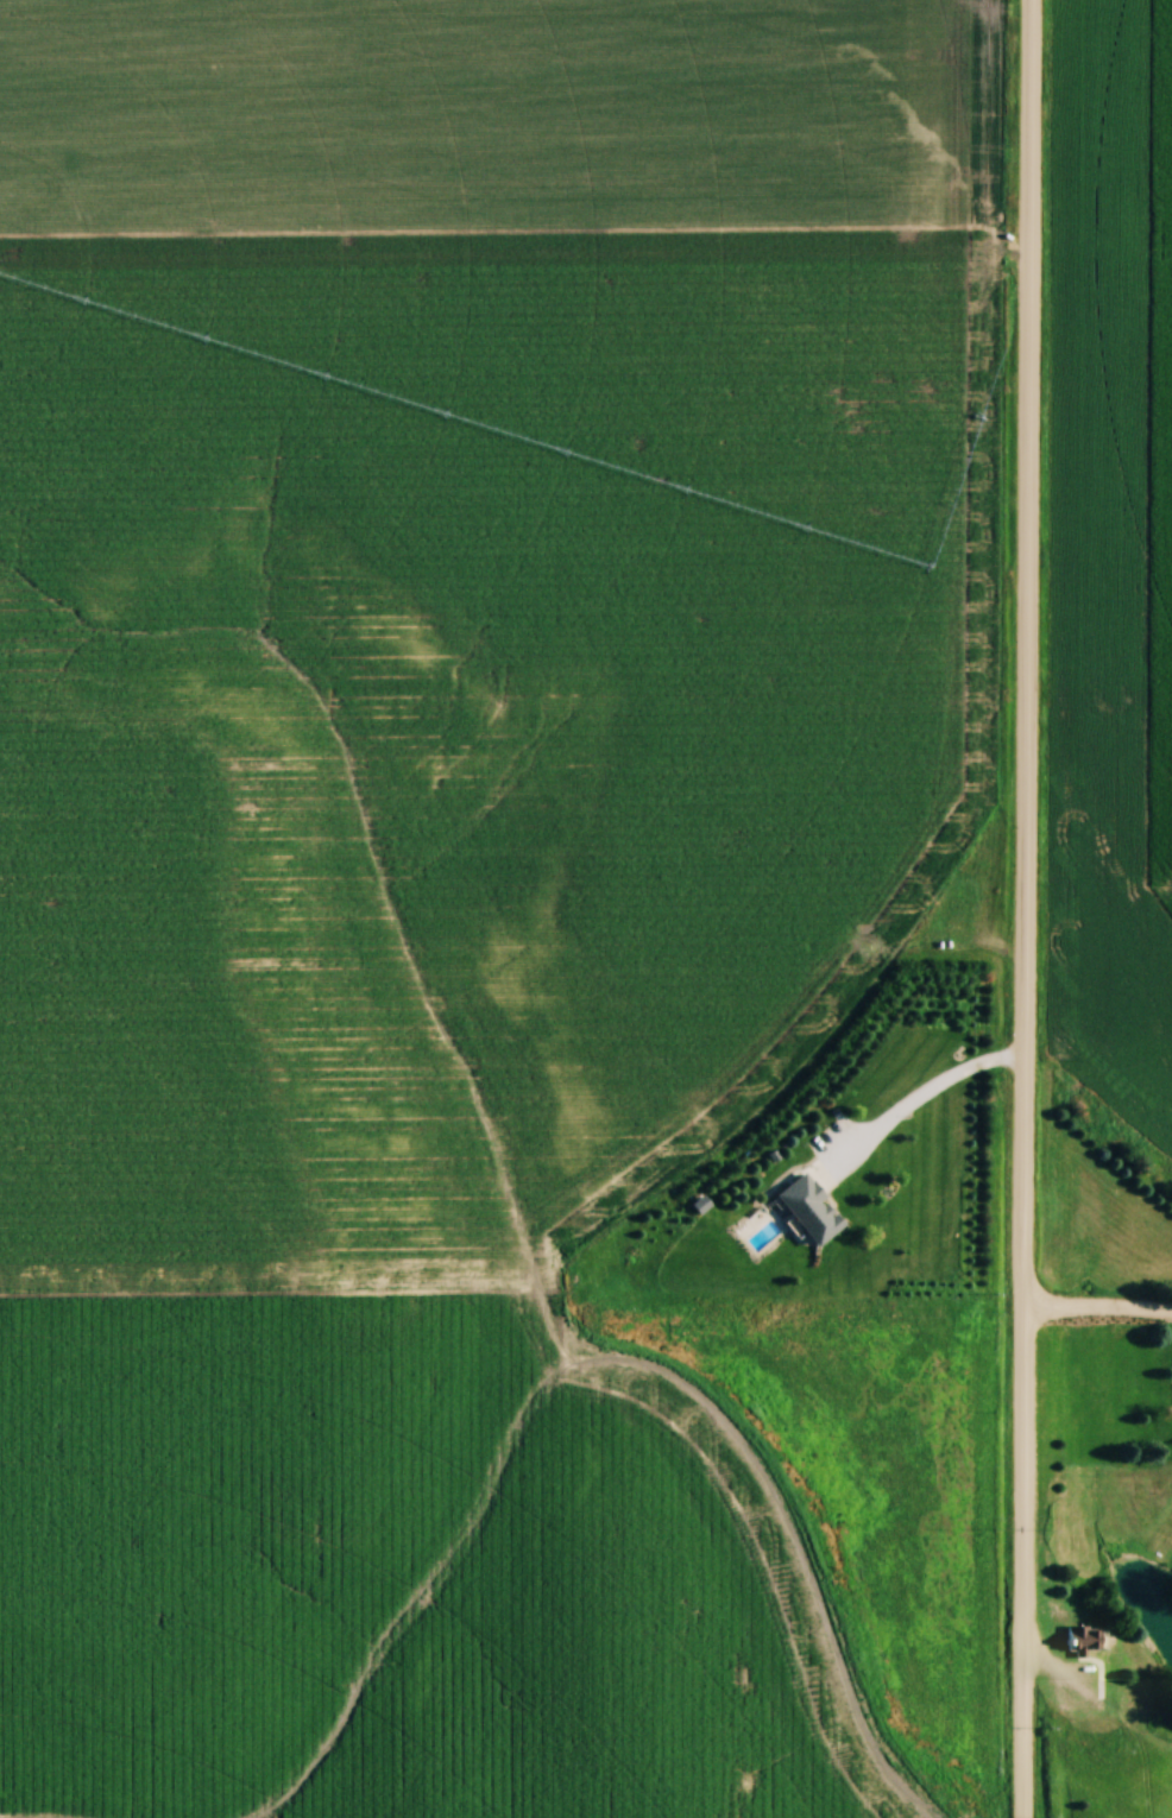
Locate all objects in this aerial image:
road: (1028, 909)
road: (1099, 1309)
building: (1085, 1640)

